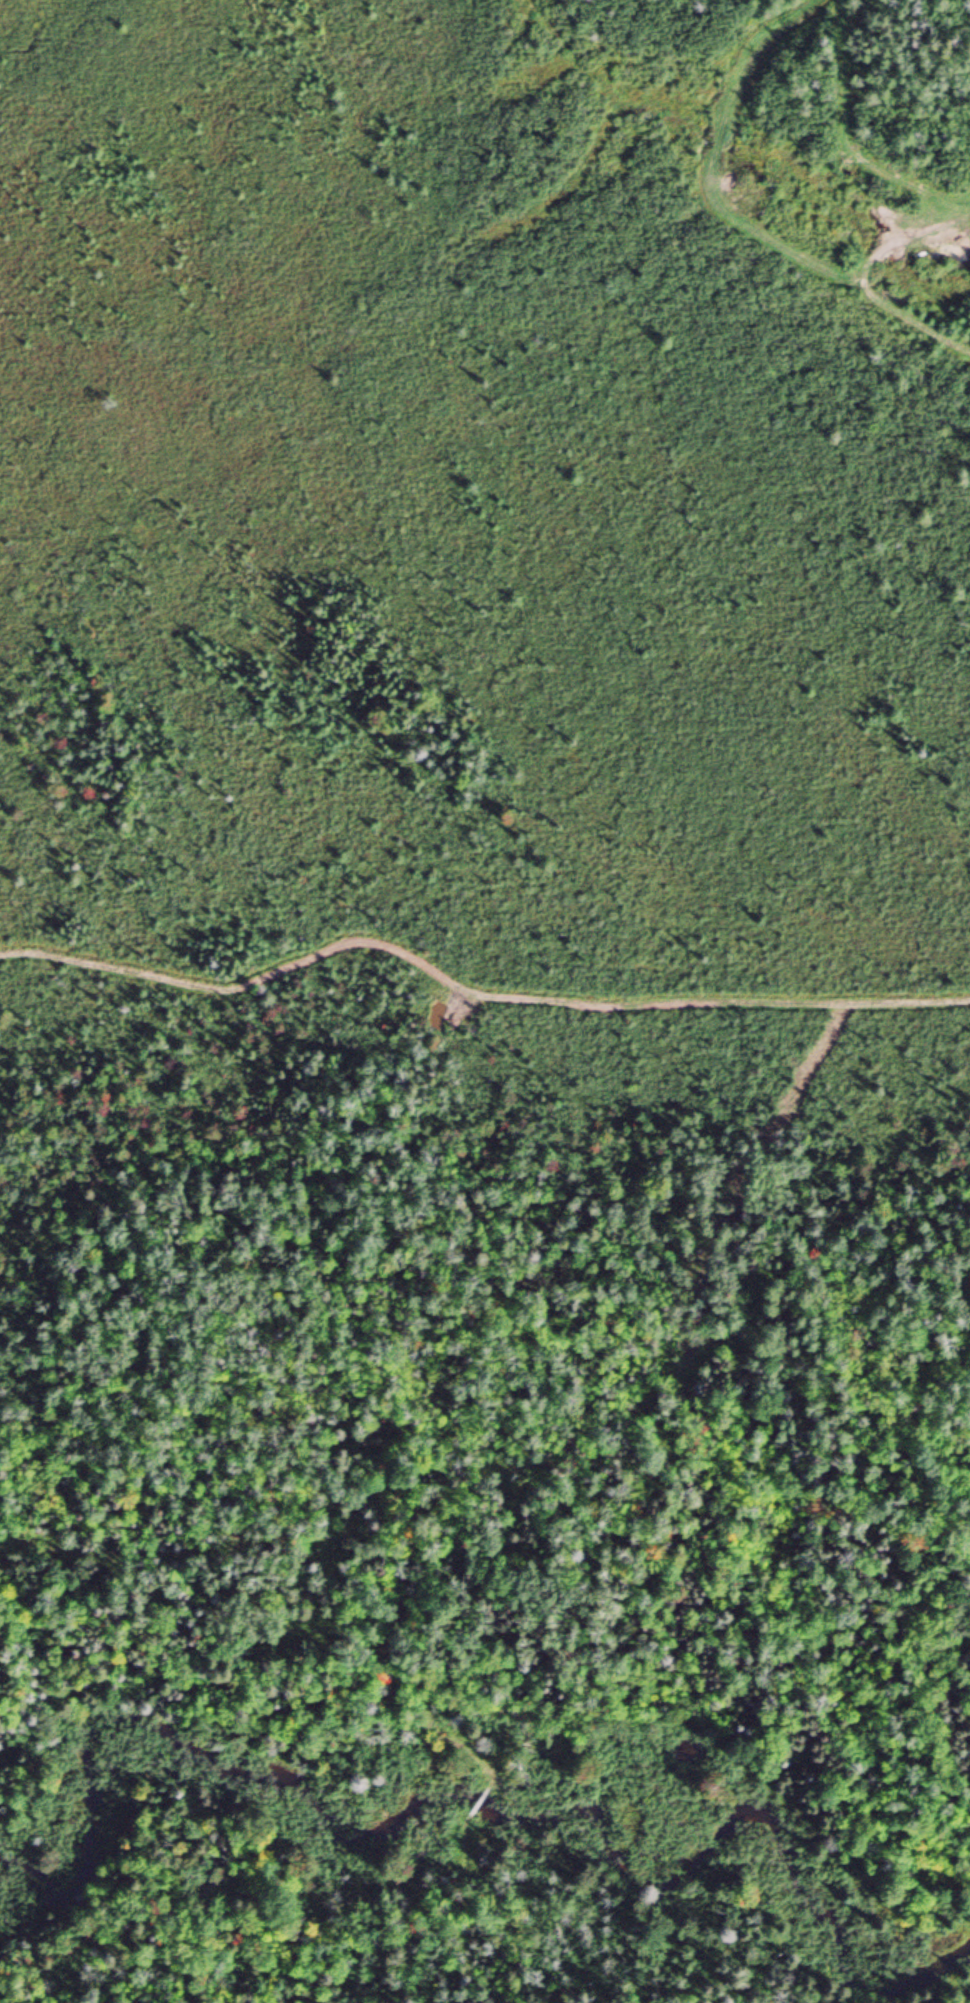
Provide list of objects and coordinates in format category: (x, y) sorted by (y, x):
river: (417, 1846)
river: (959, 1997)

